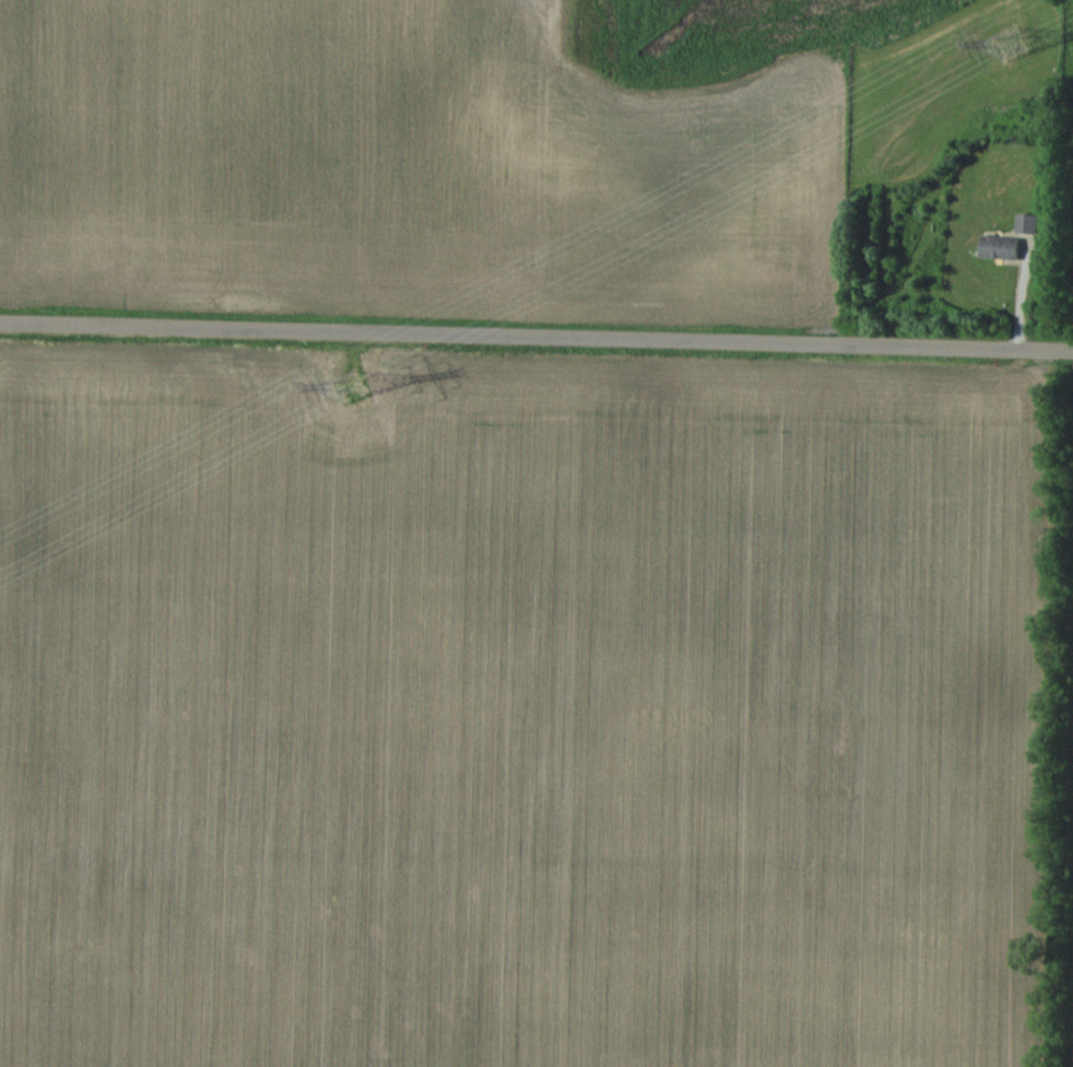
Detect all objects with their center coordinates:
power tower: (1011, 40)
crop: (402, 167)
building: (1027, 223)
building: (1000, 247)
road: (536, 335)
power tower: (347, 386)
crop: (523, 711)
crop: (1063, 740)

